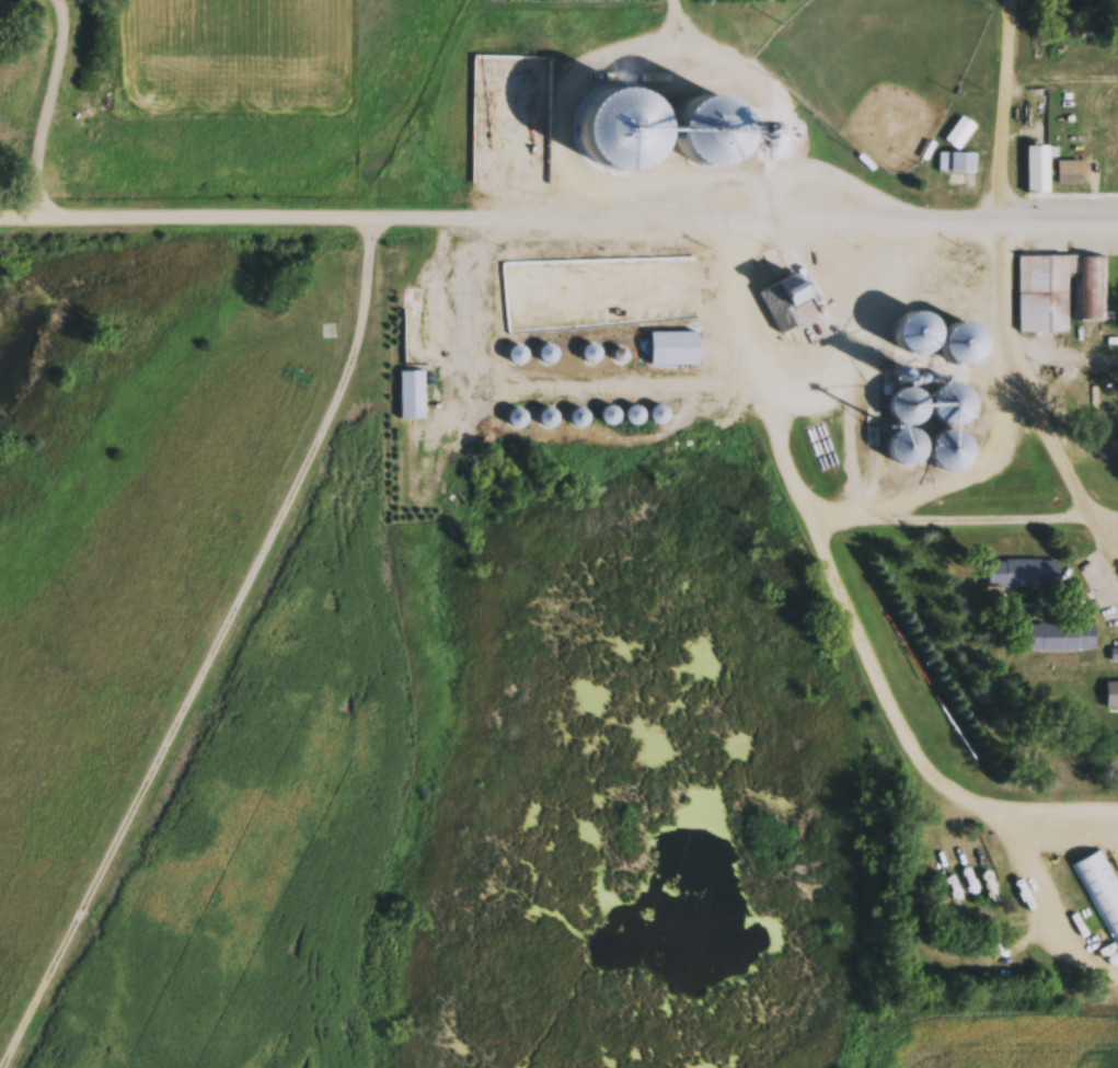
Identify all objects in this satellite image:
park: (877, 71)
road: (1056, 81)
road: (49, 108)
road: (665, 118)
building: (599, 122)
building: (714, 152)
building: (958, 163)
building: (1038, 171)
building: (1071, 174)
road: (184, 219)
road: (742, 226)
building: (1059, 294)
road: (1004, 300)
building: (675, 351)
road: (1063, 361)
road: (615, 390)
building: (445, 397)
building: (412, 398)
road: (963, 524)
road: (808, 527)
building: (1022, 575)
building: (1060, 640)
road: (210, 653)
building: (1113, 656)
road: (1035, 814)
building: (986, 893)
building: (1100, 897)
road: (1036, 911)

